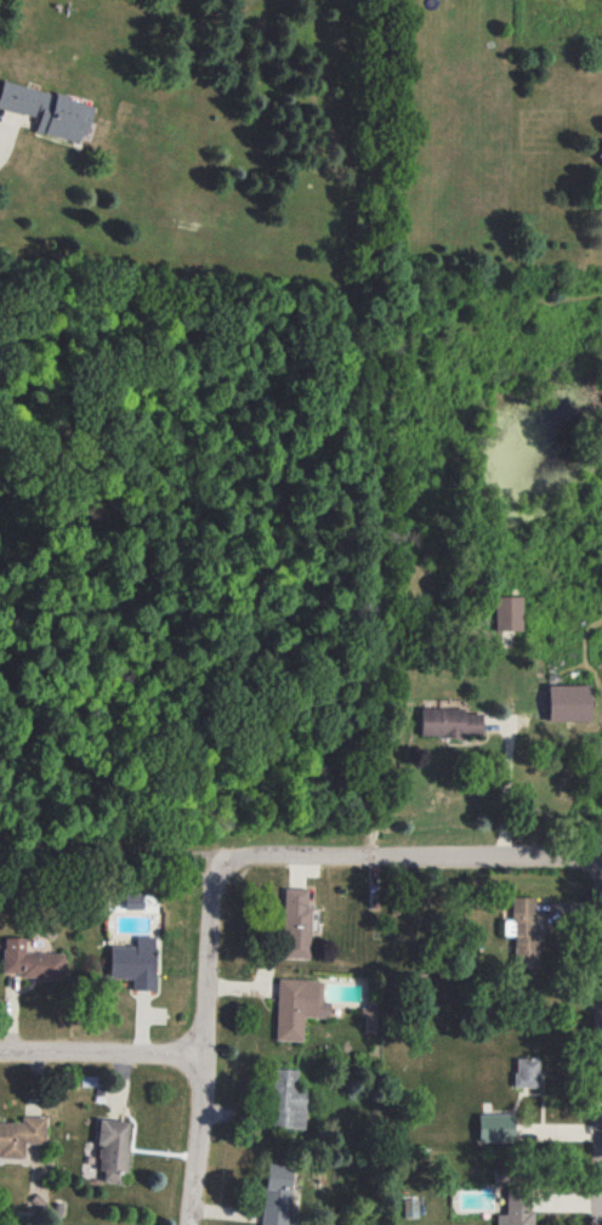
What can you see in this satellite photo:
building: (49, 110)
building: (600, 154)
building: (511, 612)
building: (568, 702)
building: (449, 721)
road: (507, 795)
road: (104, 856)
road: (404, 863)
road: (600, 872)
building: (134, 900)
building: (296, 921)
building: (523, 930)
building: (30, 960)
building: (135, 962)
building: (299, 1005)
road: (211, 1044)
road: (106, 1059)
building: (526, 1072)
building: (286, 1099)
building: (494, 1127)
building: (21, 1135)
building: (112, 1149)
building: (277, 1196)
building: (410, 1207)
building: (517, 1209)

